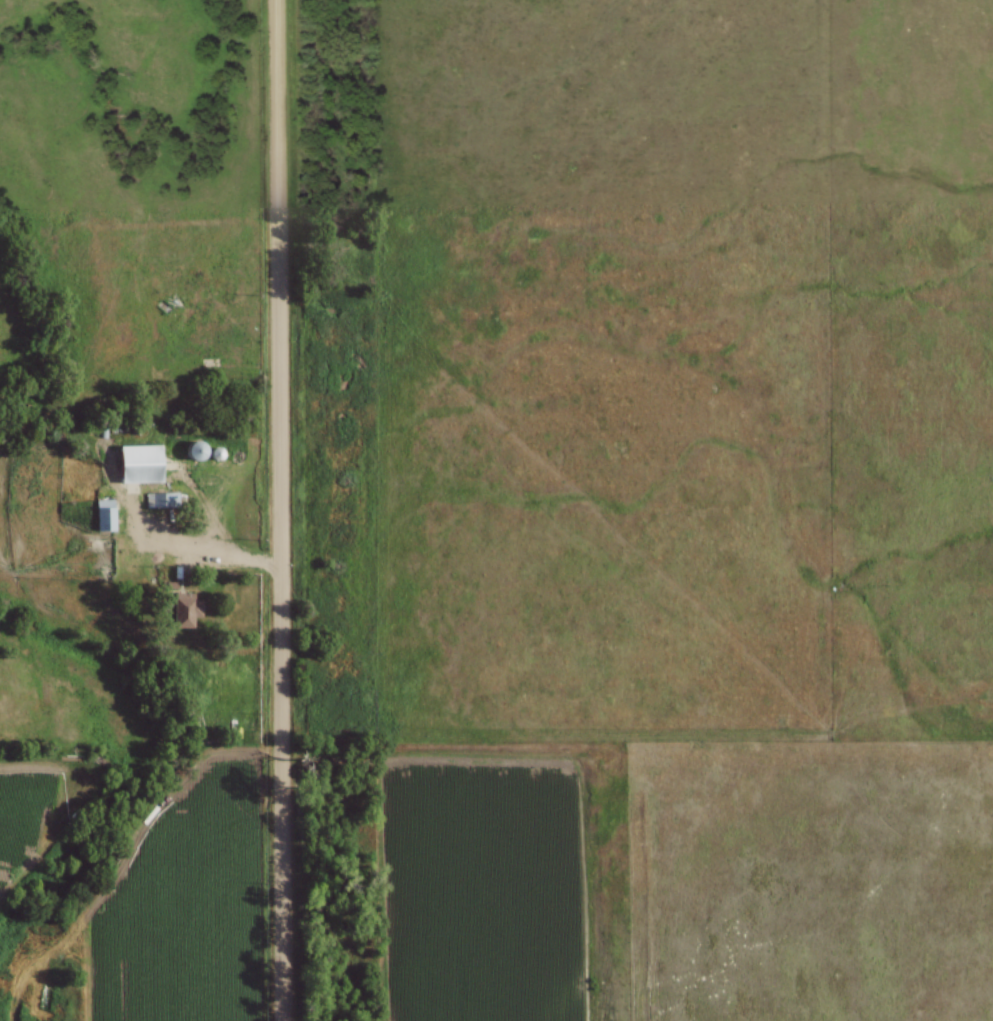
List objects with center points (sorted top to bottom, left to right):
silo: (195, 449)
building: (193, 452)
silo: (215, 453)
building: (138, 466)
building: (159, 499)
road: (215, 504)
road: (281, 510)
building: (103, 519)
road: (179, 549)
building: (185, 609)
crop: (481, 889)

